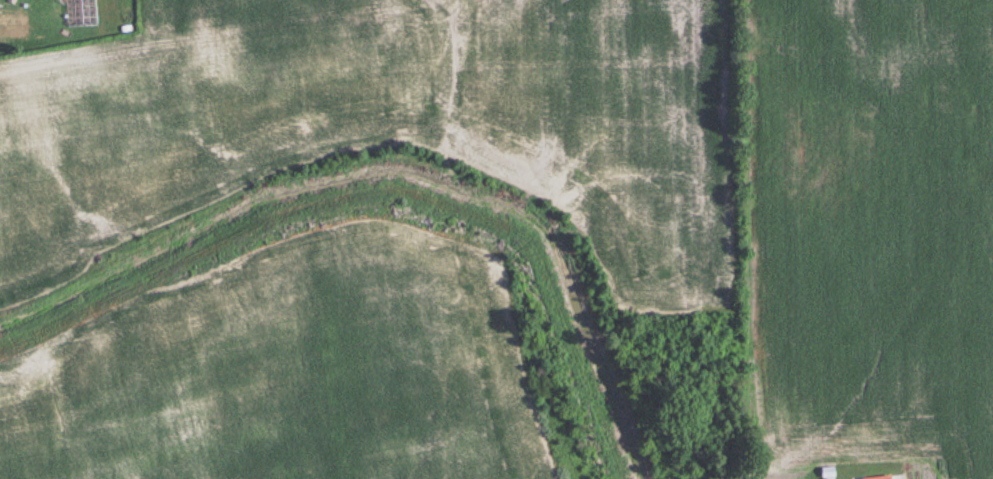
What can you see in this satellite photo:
building: (880, 477)

